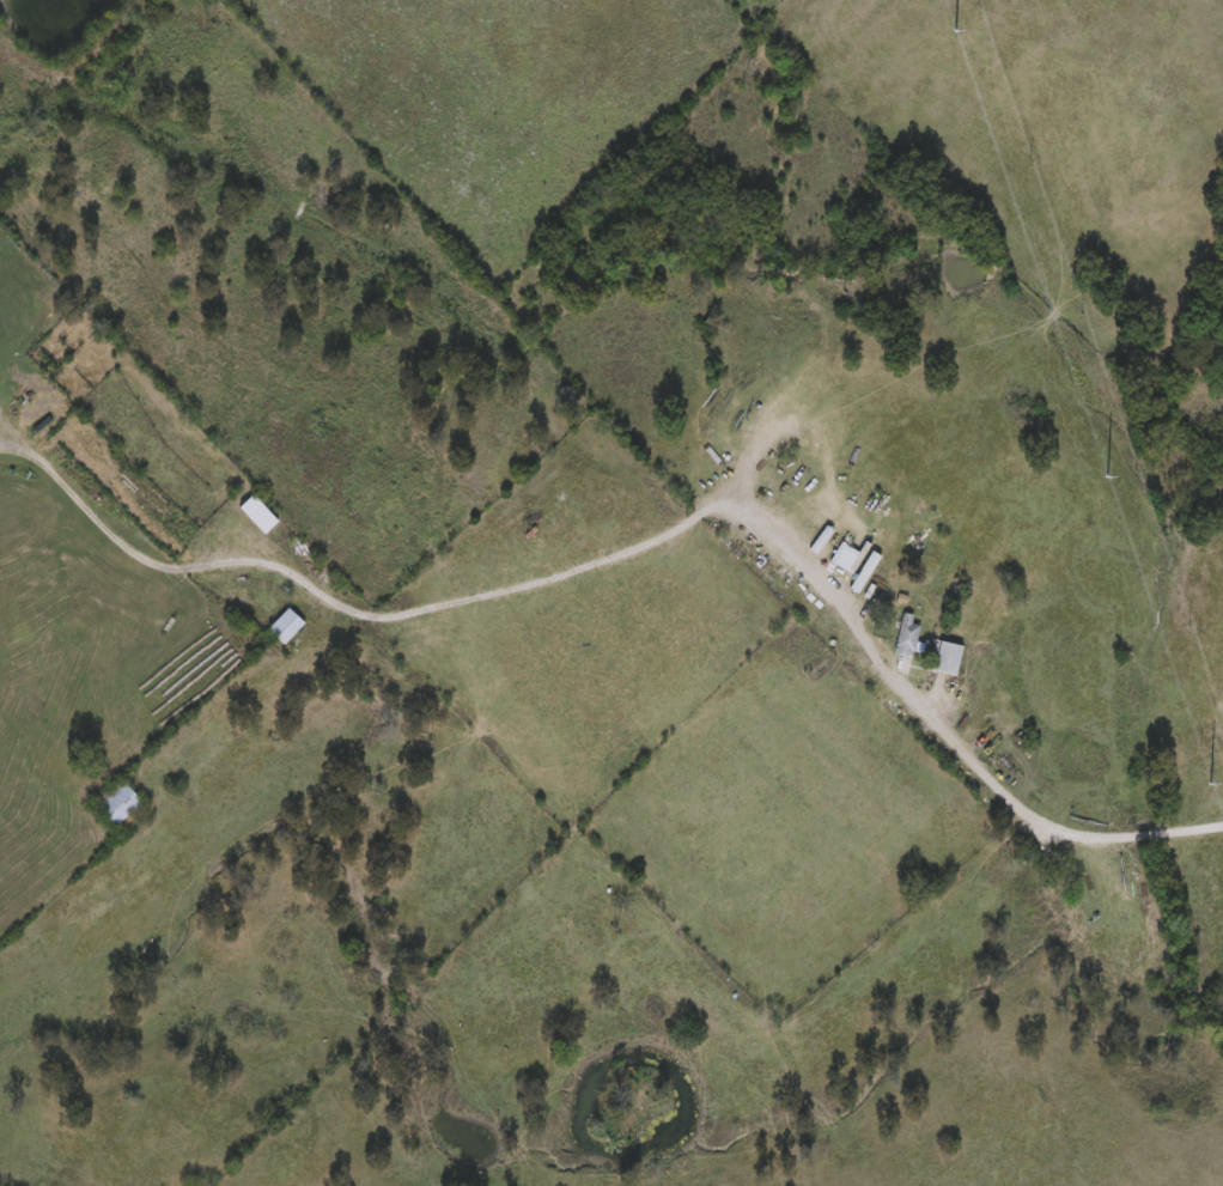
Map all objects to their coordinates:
building: (39, 397)
road: (5, 416)
building: (255, 510)
building: (842, 552)
road: (404, 606)
building: (284, 622)
building: (905, 632)
building: (944, 653)
road: (994, 796)
building: (114, 797)

